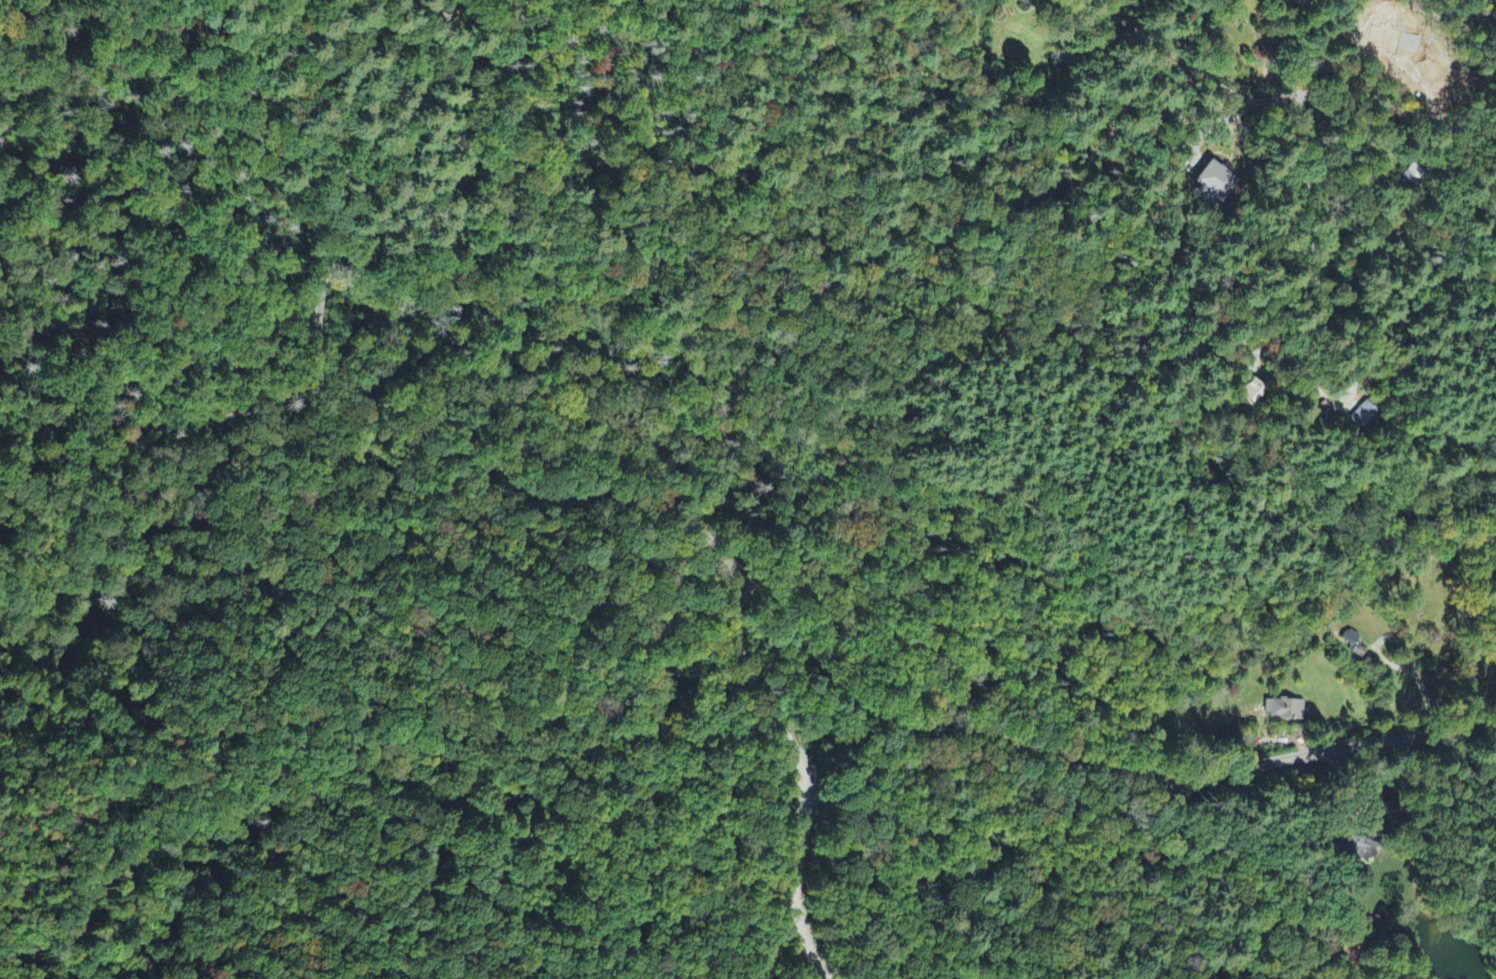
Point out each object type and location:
road: (1336, 94)
building: (1214, 183)
road: (338, 389)
building: (1250, 393)
building: (1361, 418)
building: (1354, 645)
building: (1286, 711)
road: (803, 775)
road: (1087, 776)
building: (1362, 850)
road: (1197, 872)

